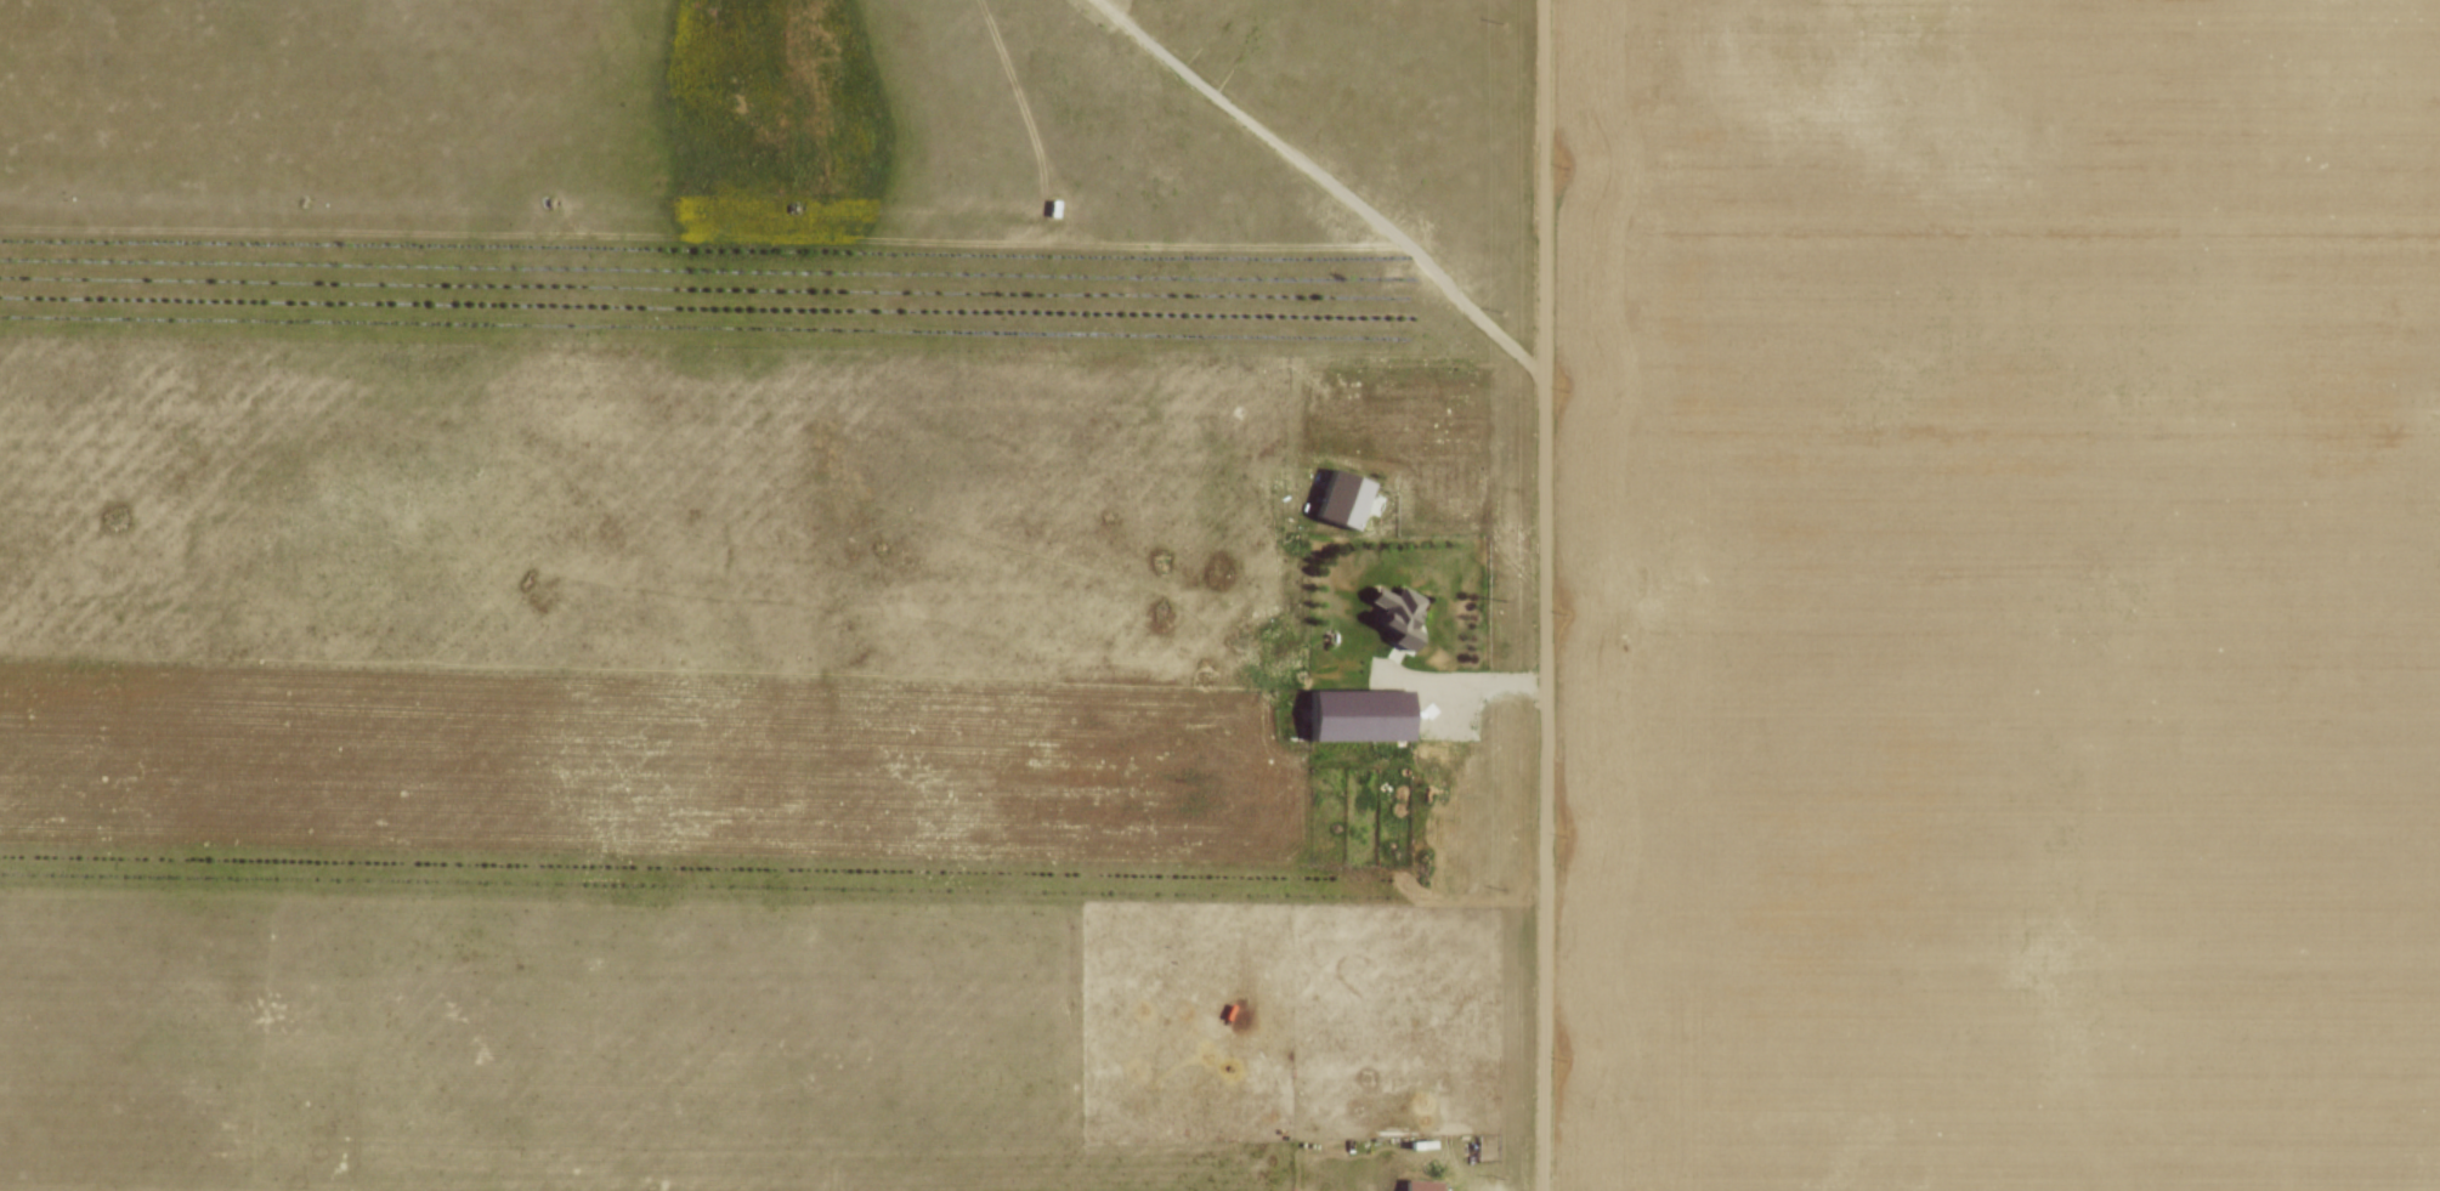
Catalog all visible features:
road: (1329, 182)
road: (1545, 595)
building: (1404, 617)
road: (1449, 673)
building: (1363, 714)
crop: (734, 1038)

